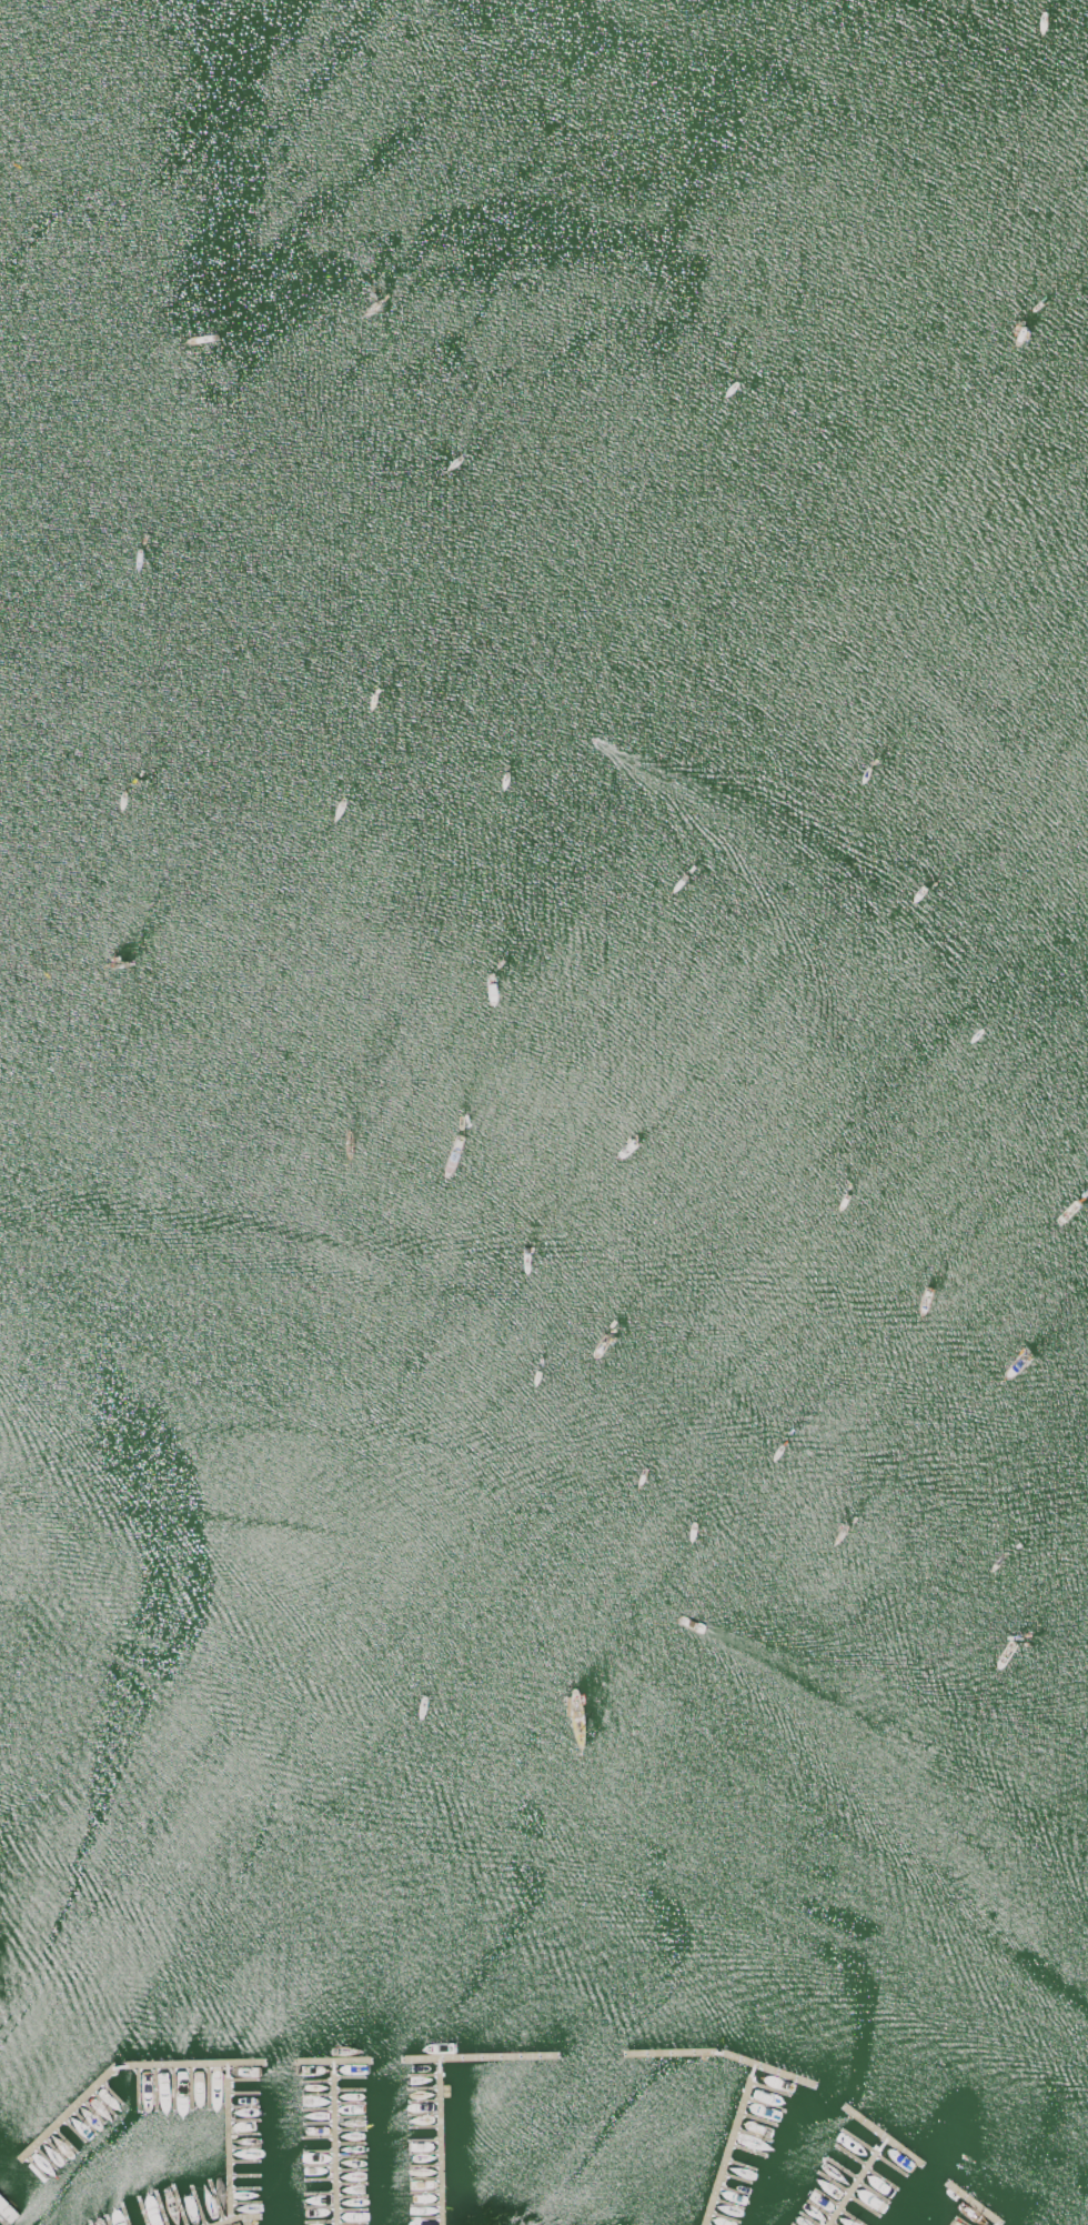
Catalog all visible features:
pier: (719, 2054)
pier: (480, 2056)
pier: (331, 2063)
pier: (121, 2066)
pier: (440, 2141)
pier: (228, 2142)
pier: (333, 2144)
pier: (729, 2145)
pier: (903, 2152)
pier: (869, 2161)
pier: (973, 2204)
road: (229, 2223)
road: (234, 2224)

